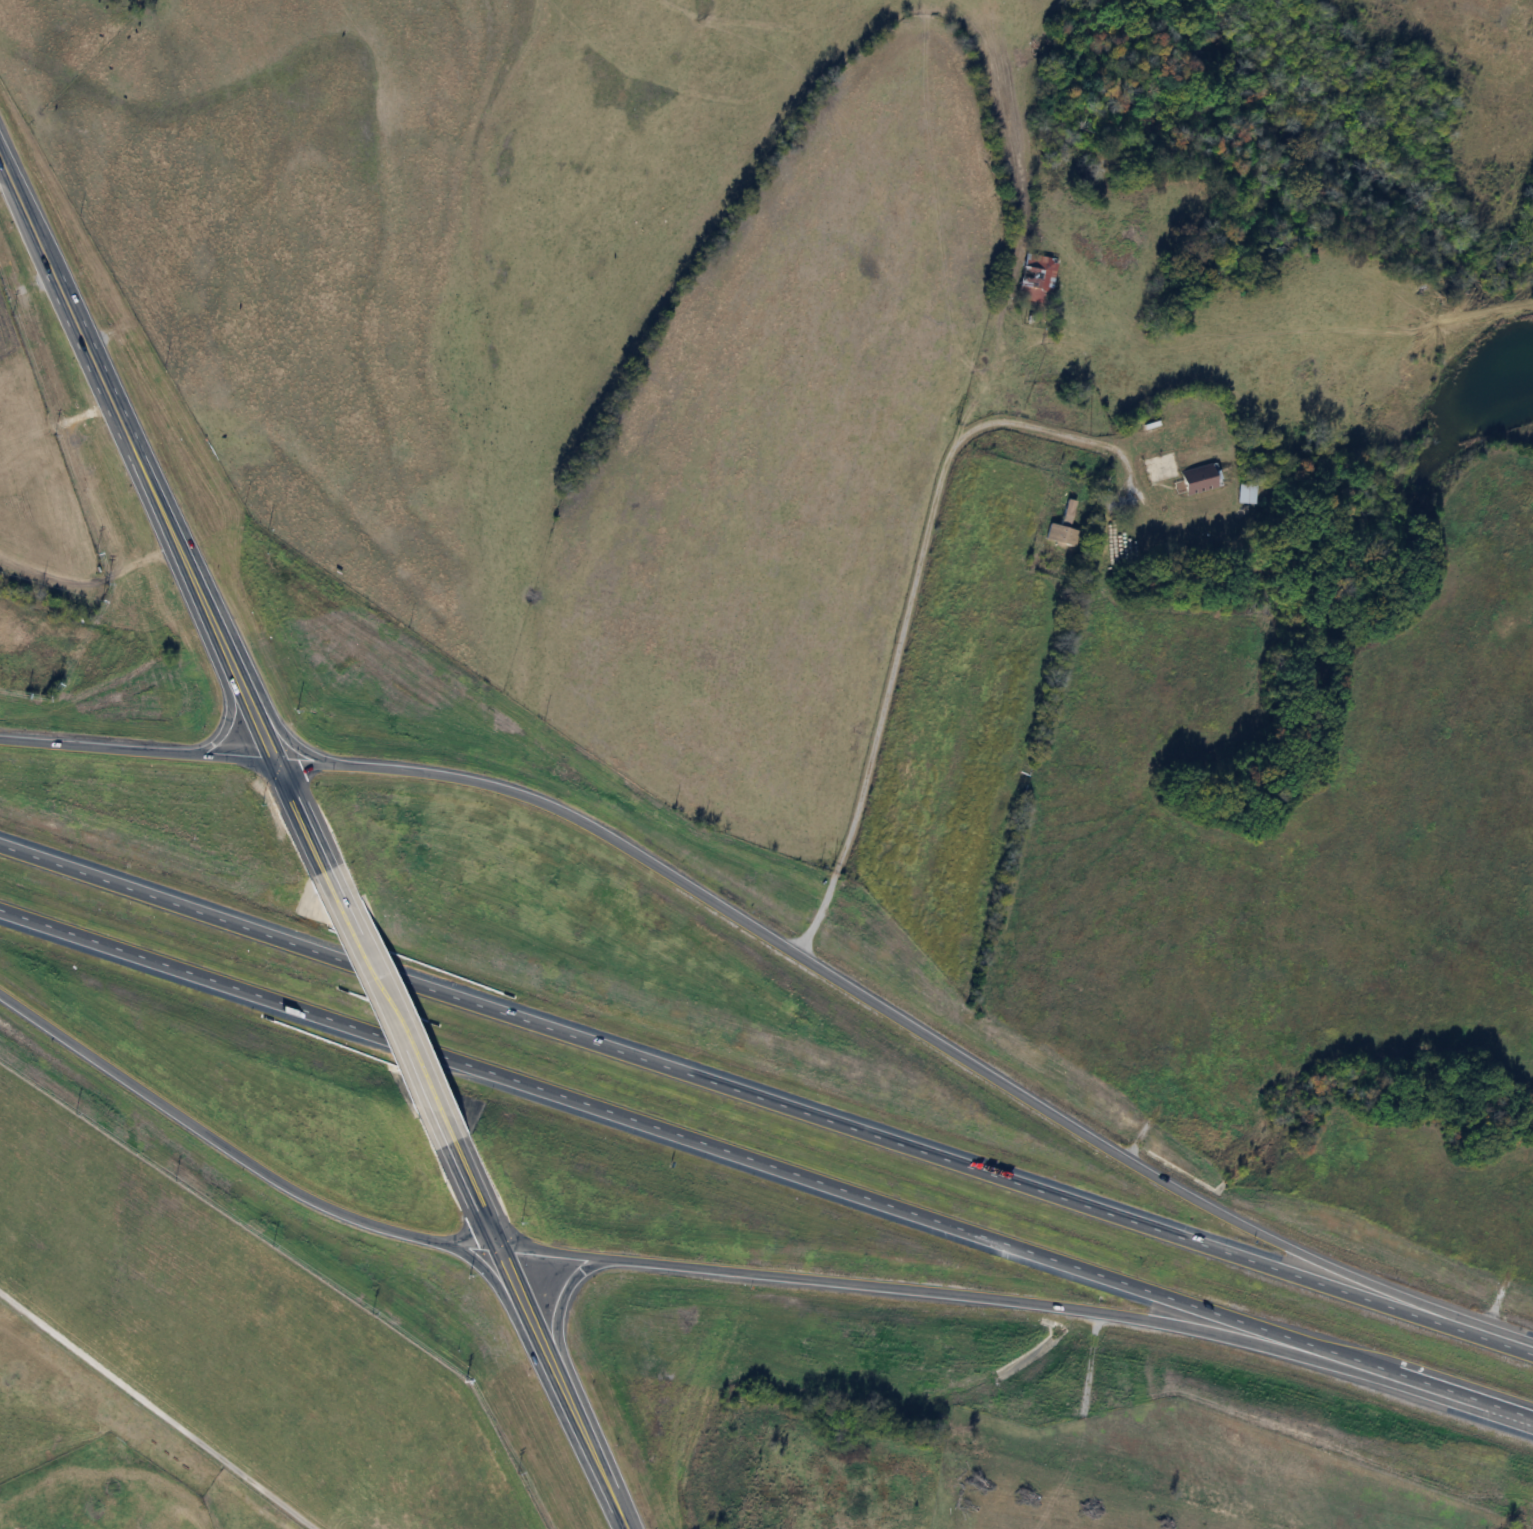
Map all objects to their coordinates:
building: (1036, 277)
road: (137, 461)
building: (1198, 477)
building: (1245, 493)
building: (1062, 527)
road: (912, 584)
road: (230, 711)
road: (288, 738)
road: (138, 745)
road: (301, 814)
road: (881, 1002)
road: (384, 1007)
road: (729, 1088)
road: (694, 1139)
road: (232, 1146)
road: (466, 1194)
road: (494, 1281)
road: (941, 1291)
road: (557, 1311)
road: (1497, 1337)
road: (558, 1387)
road: (1461, 1392)

